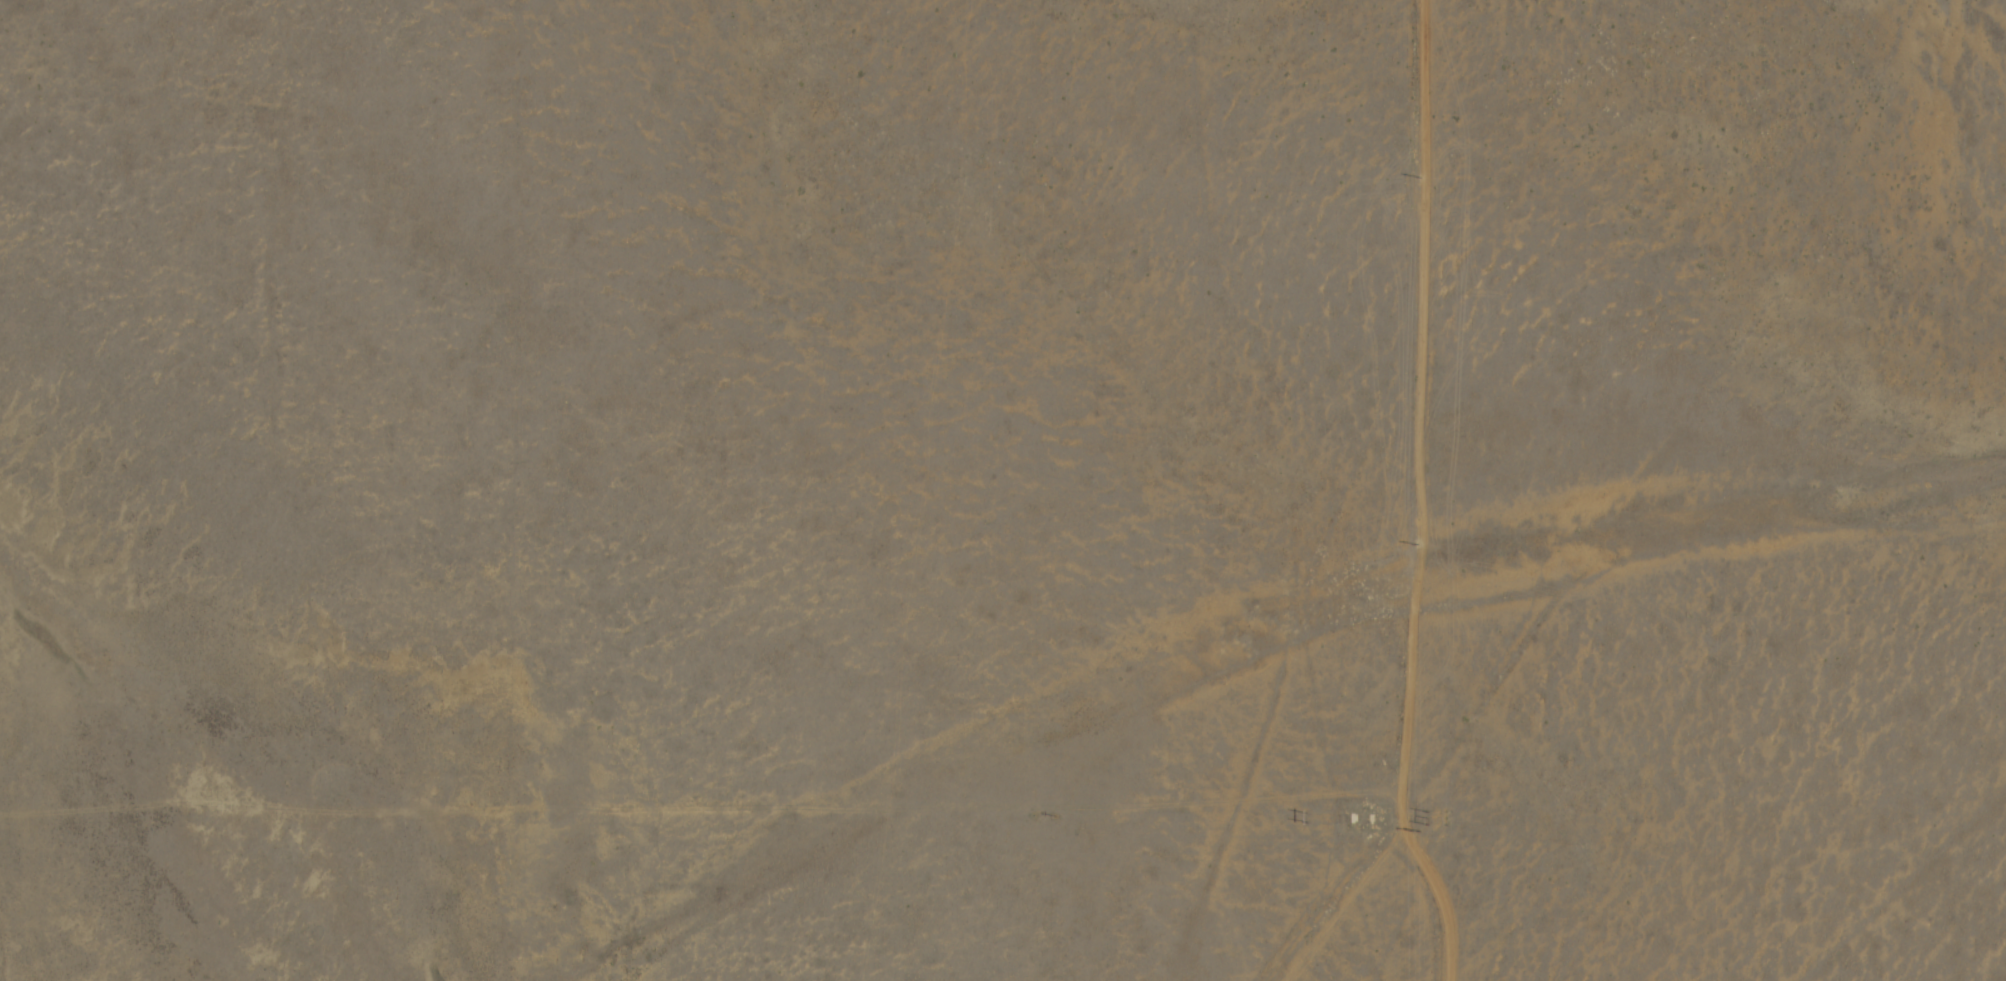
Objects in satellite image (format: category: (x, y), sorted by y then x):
road: (1391, 490)

